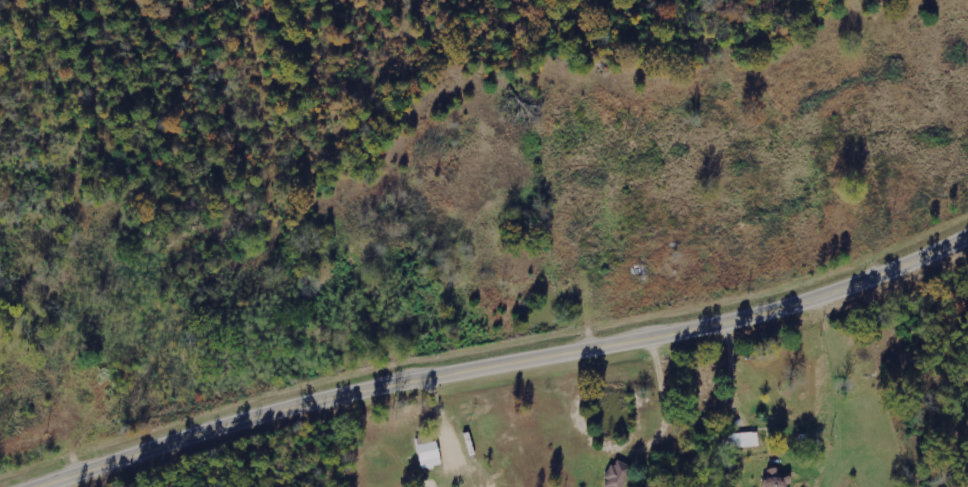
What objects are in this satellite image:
road: (729, 161)
road: (505, 365)
building: (739, 440)
building: (425, 455)
building: (615, 474)
building: (776, 478)

